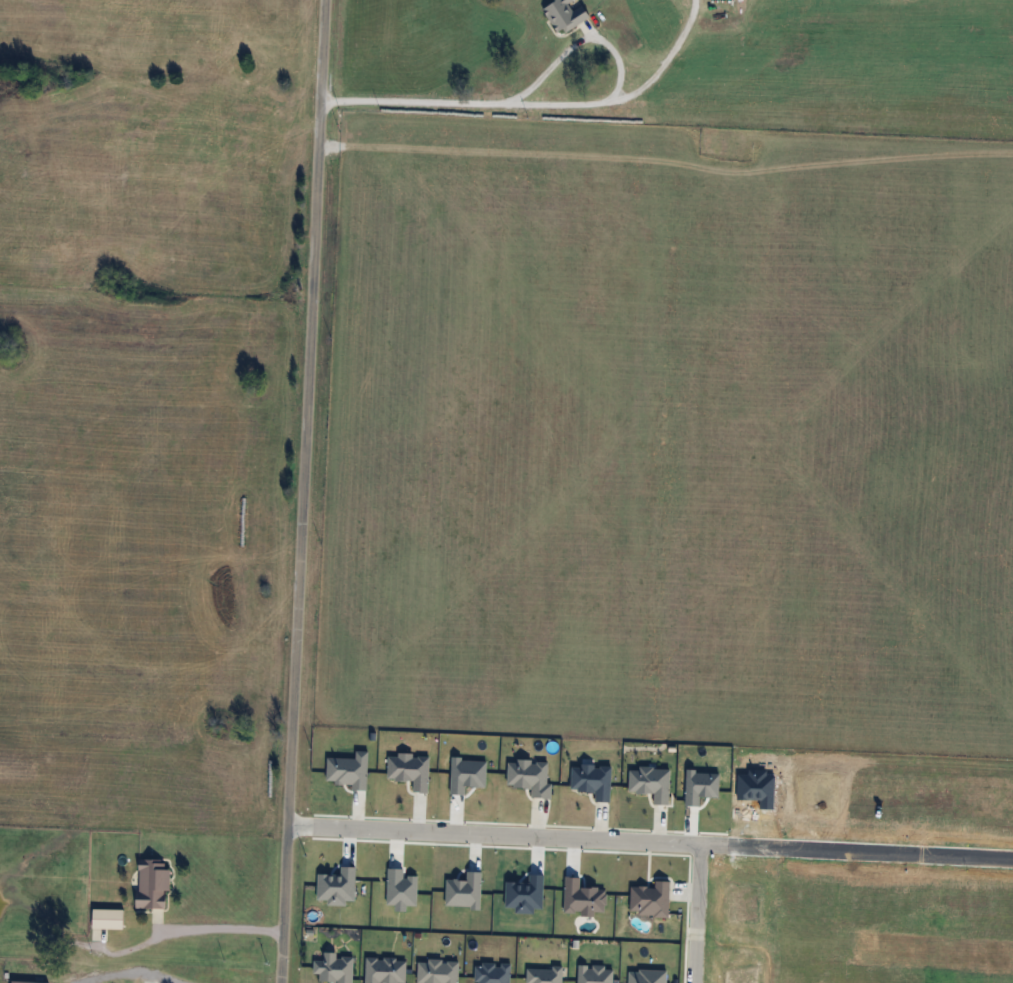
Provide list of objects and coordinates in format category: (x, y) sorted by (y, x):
road: (560, 107)
road: (303, 491)
road: (562, 836)
road: (854, 850)
building: (146, 879)
building: (103, 913)
road: (219, 927)
building: (330, 965)
building: (378, 966)
building: (432, 970)
building: (488, 970)
building: (539, 971)
building: (591, 972)
road: (129, 973)
building: (643, 974)
building: (29, 982)

